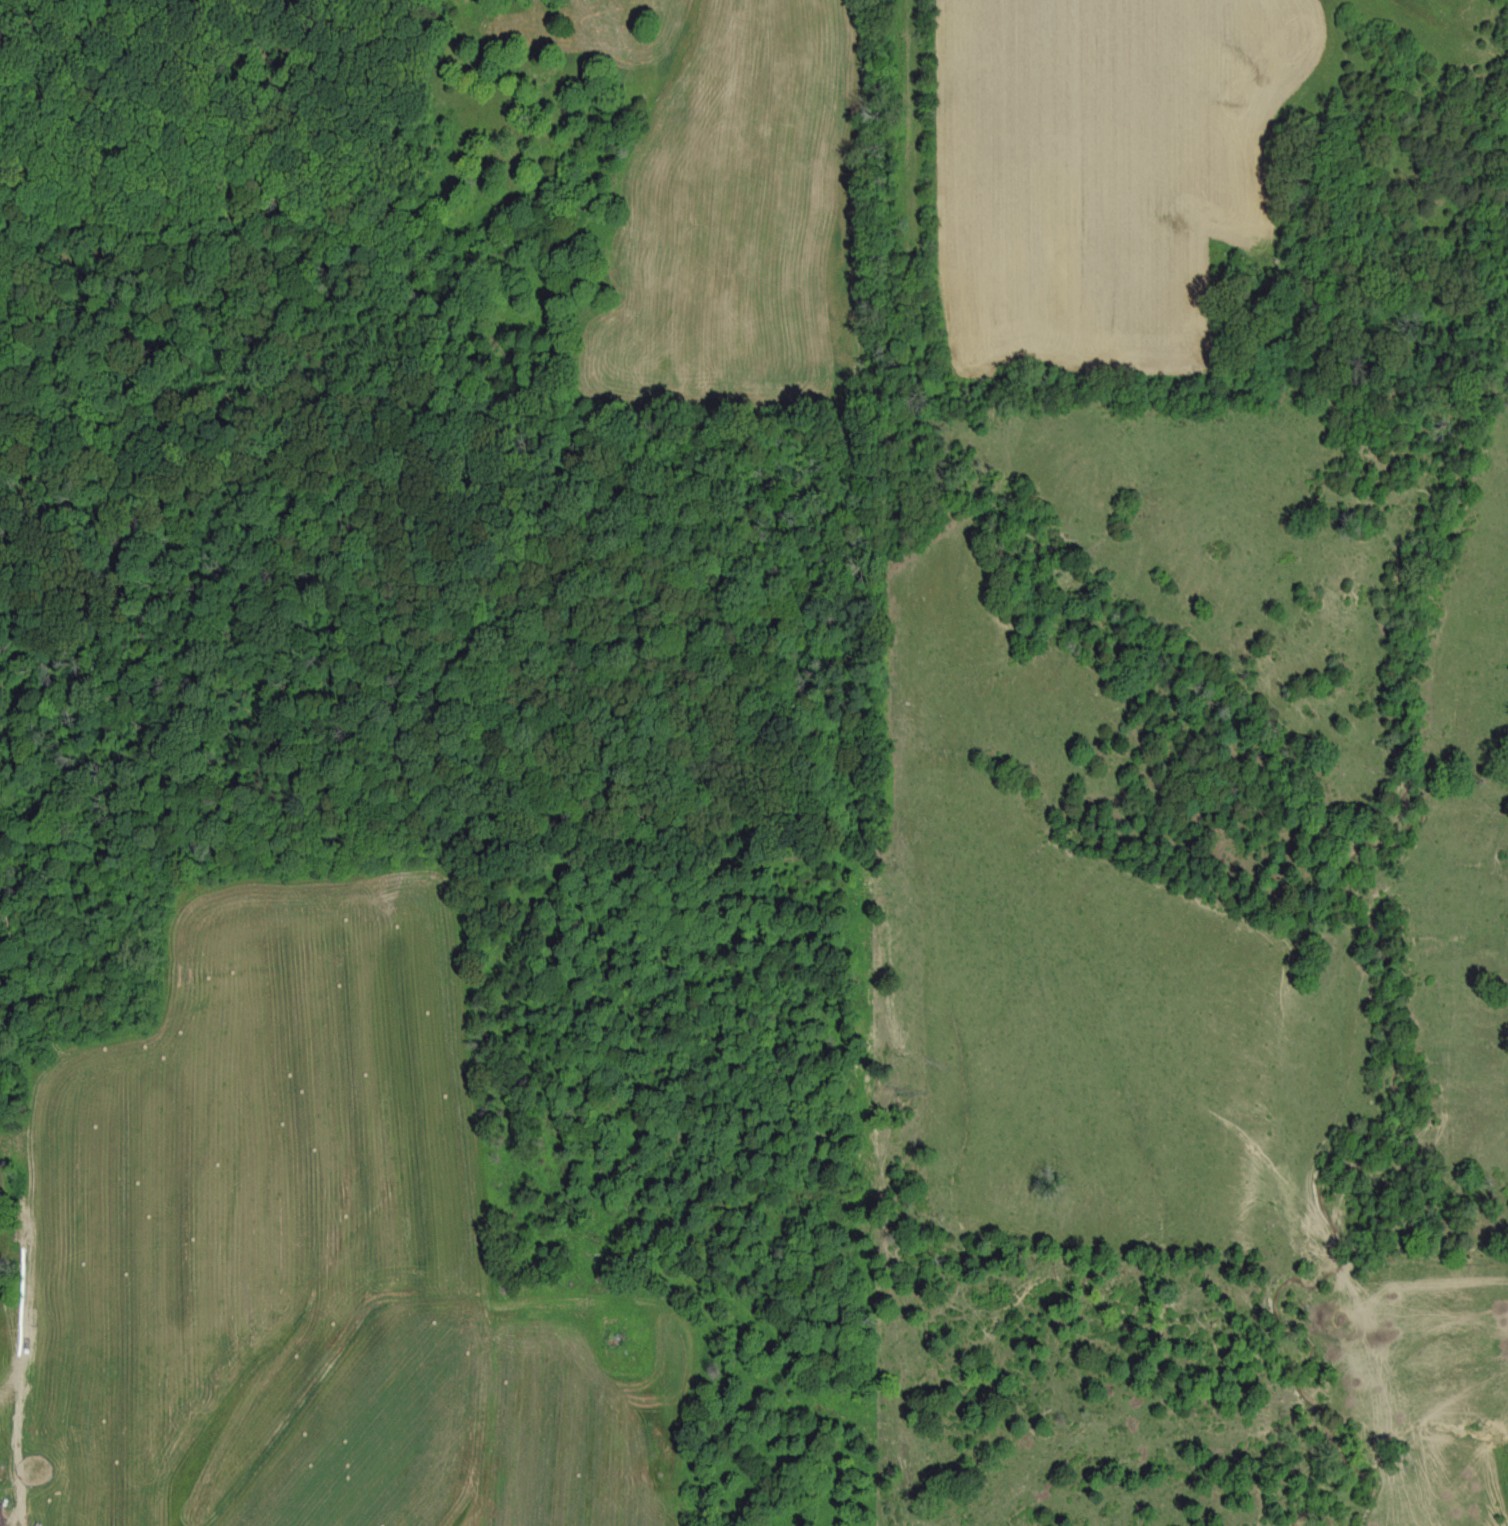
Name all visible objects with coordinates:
building: (1, 1513)

